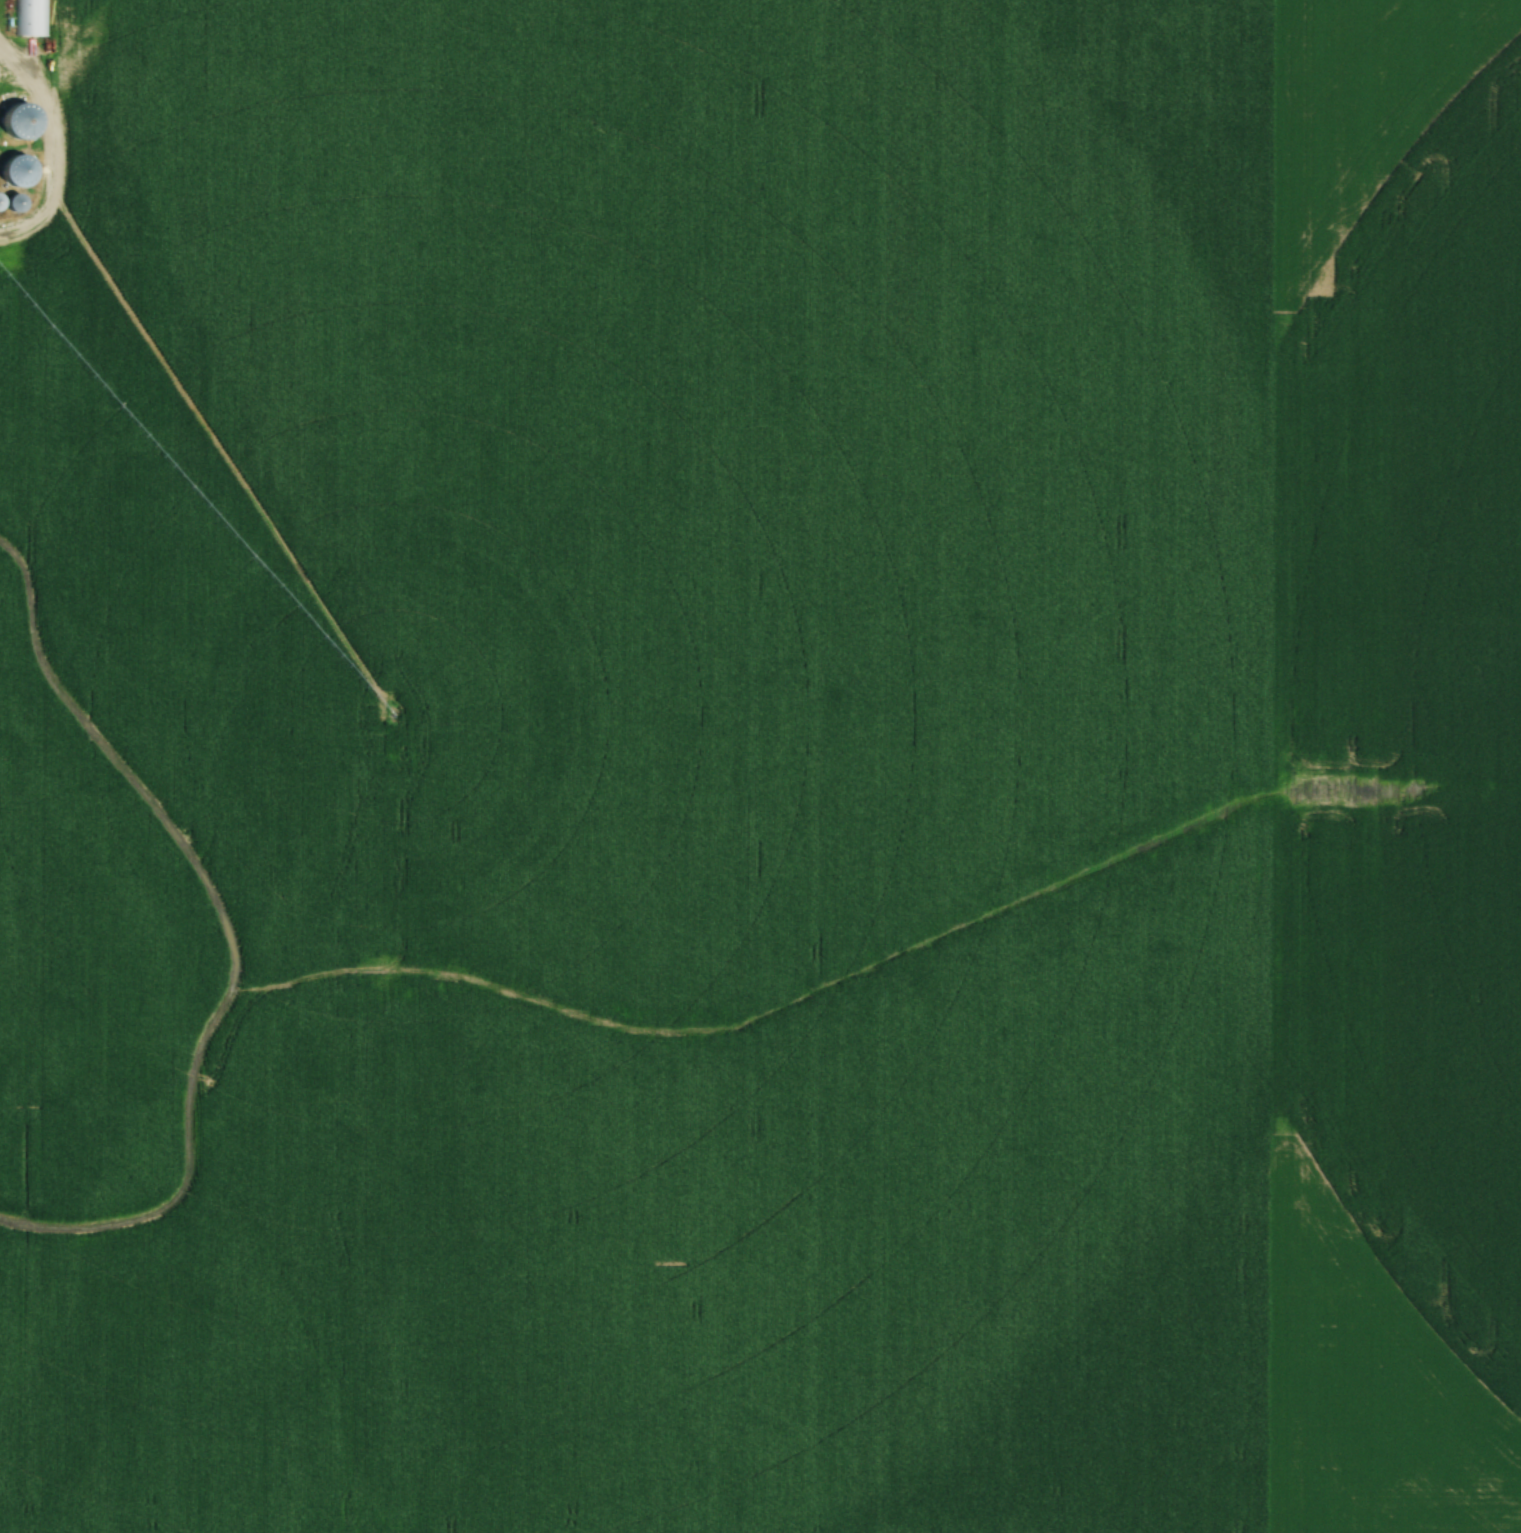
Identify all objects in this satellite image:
building: (32, 18)
building: (21, 122)
building: (11, 171)
building: (10, 204)

